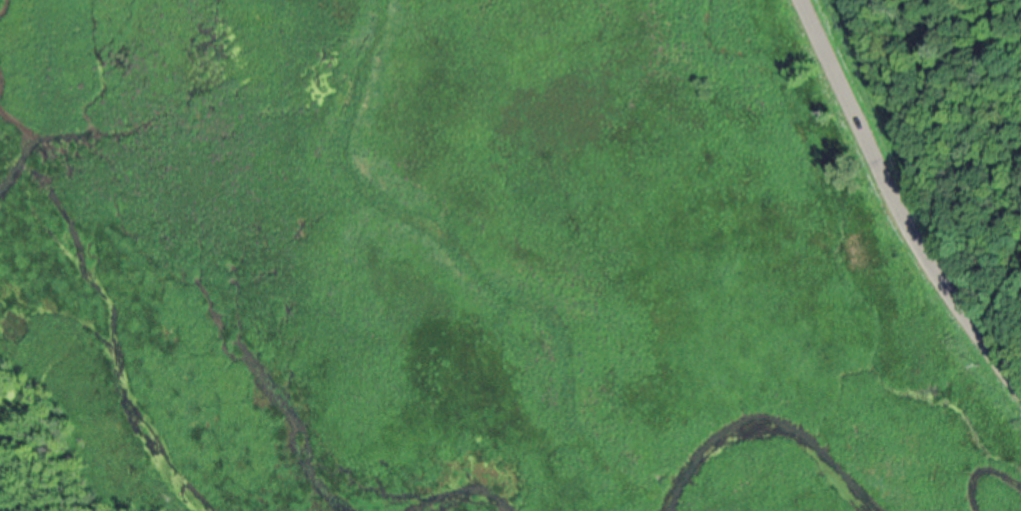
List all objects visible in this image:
road: (895, 203)

